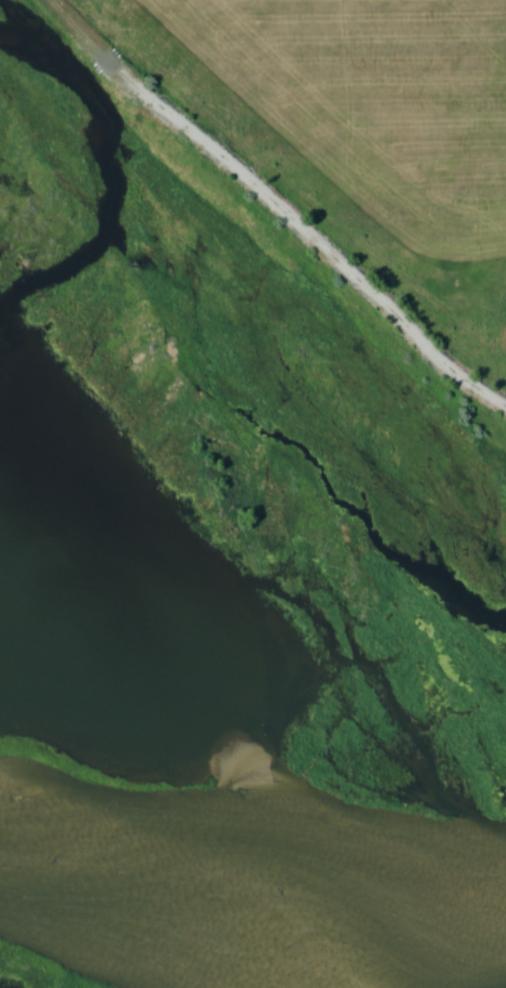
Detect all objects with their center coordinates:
river: (217, 893)

